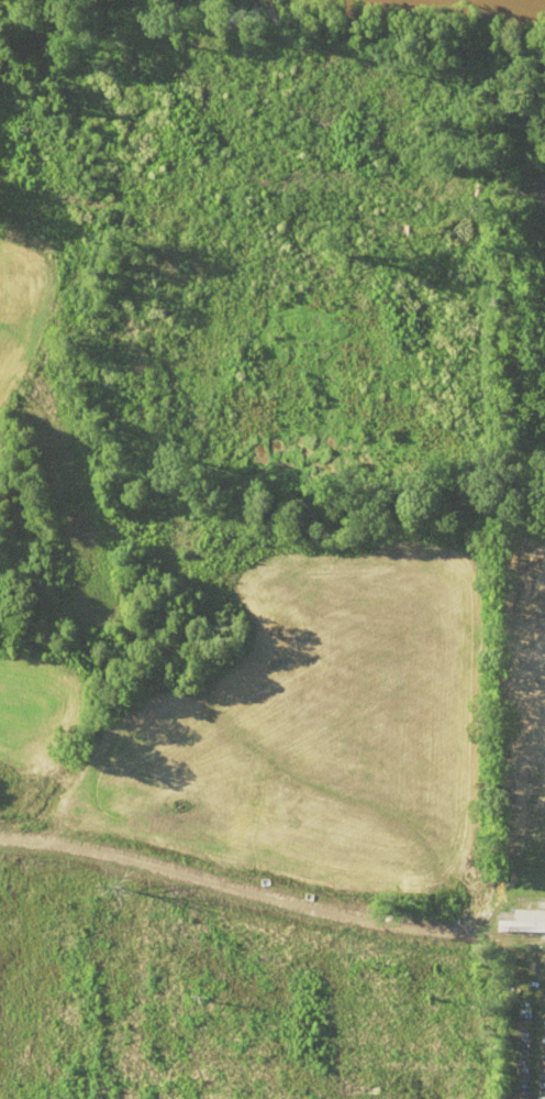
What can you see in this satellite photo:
building: (526, 922)

